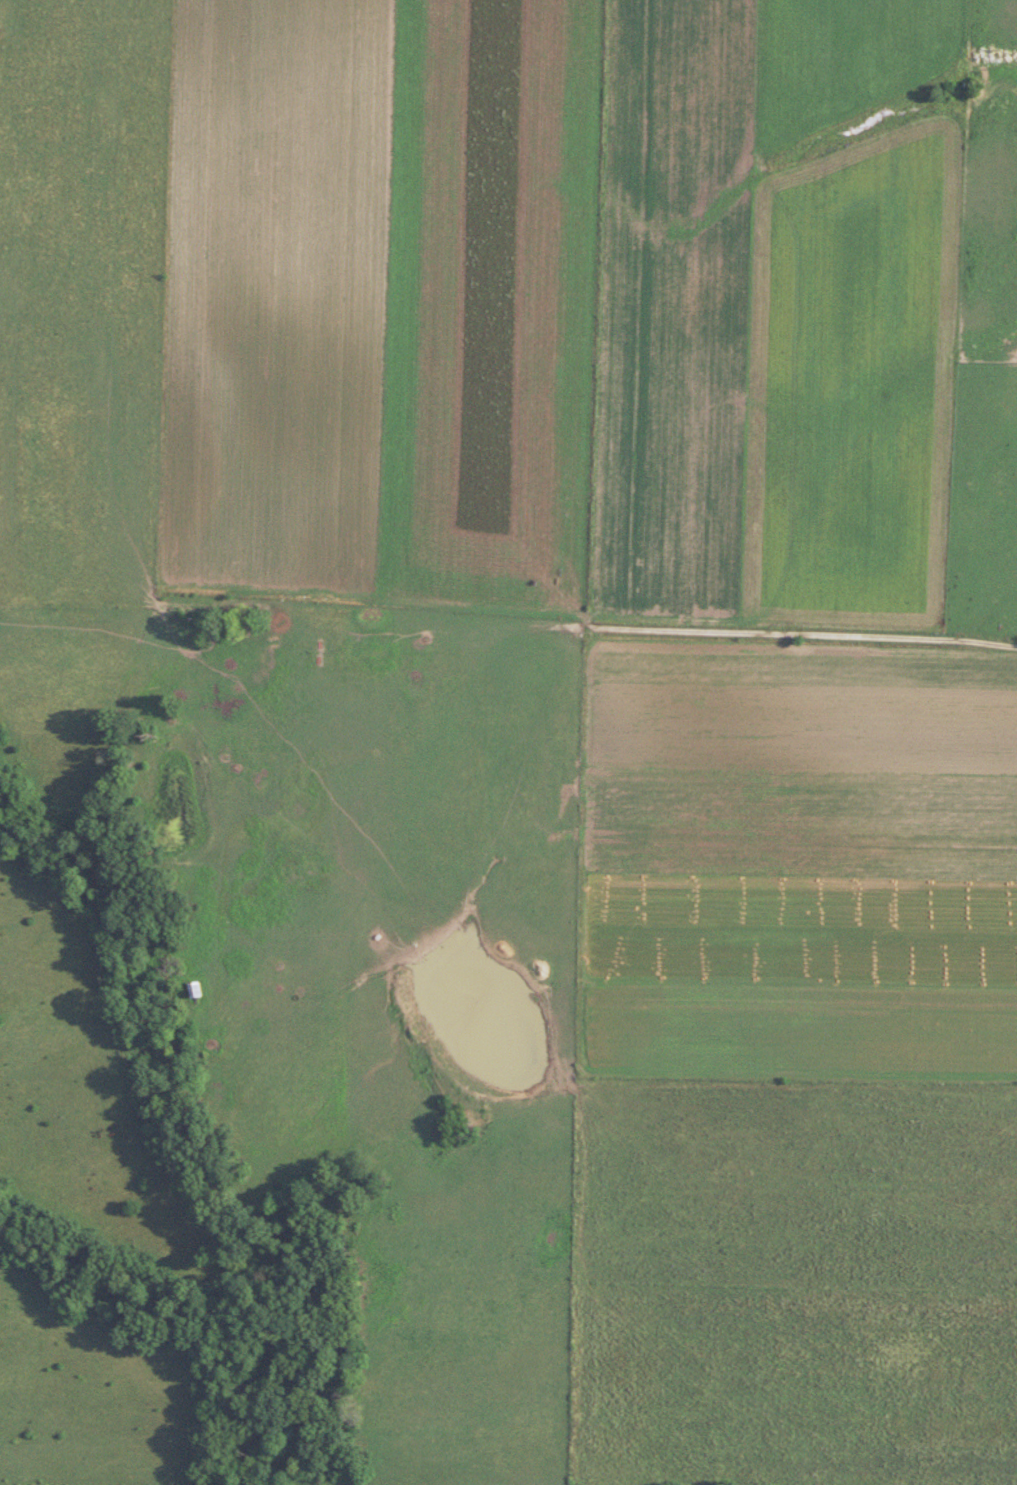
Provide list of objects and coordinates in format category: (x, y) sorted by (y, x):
road: (803, 635)
building: (202, 991)

